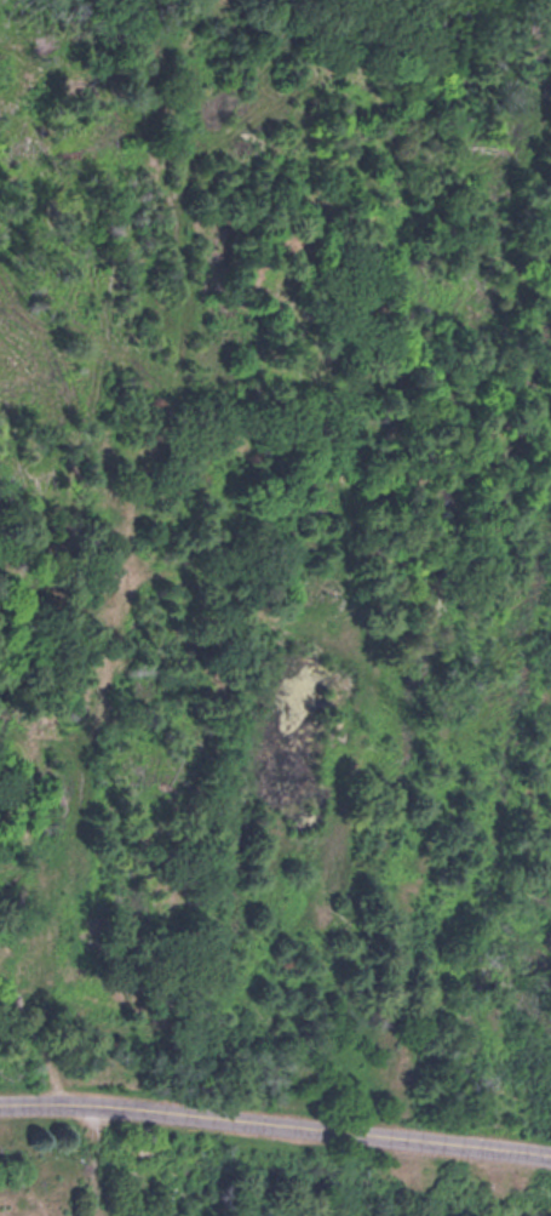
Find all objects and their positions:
road: (276, 1123)

